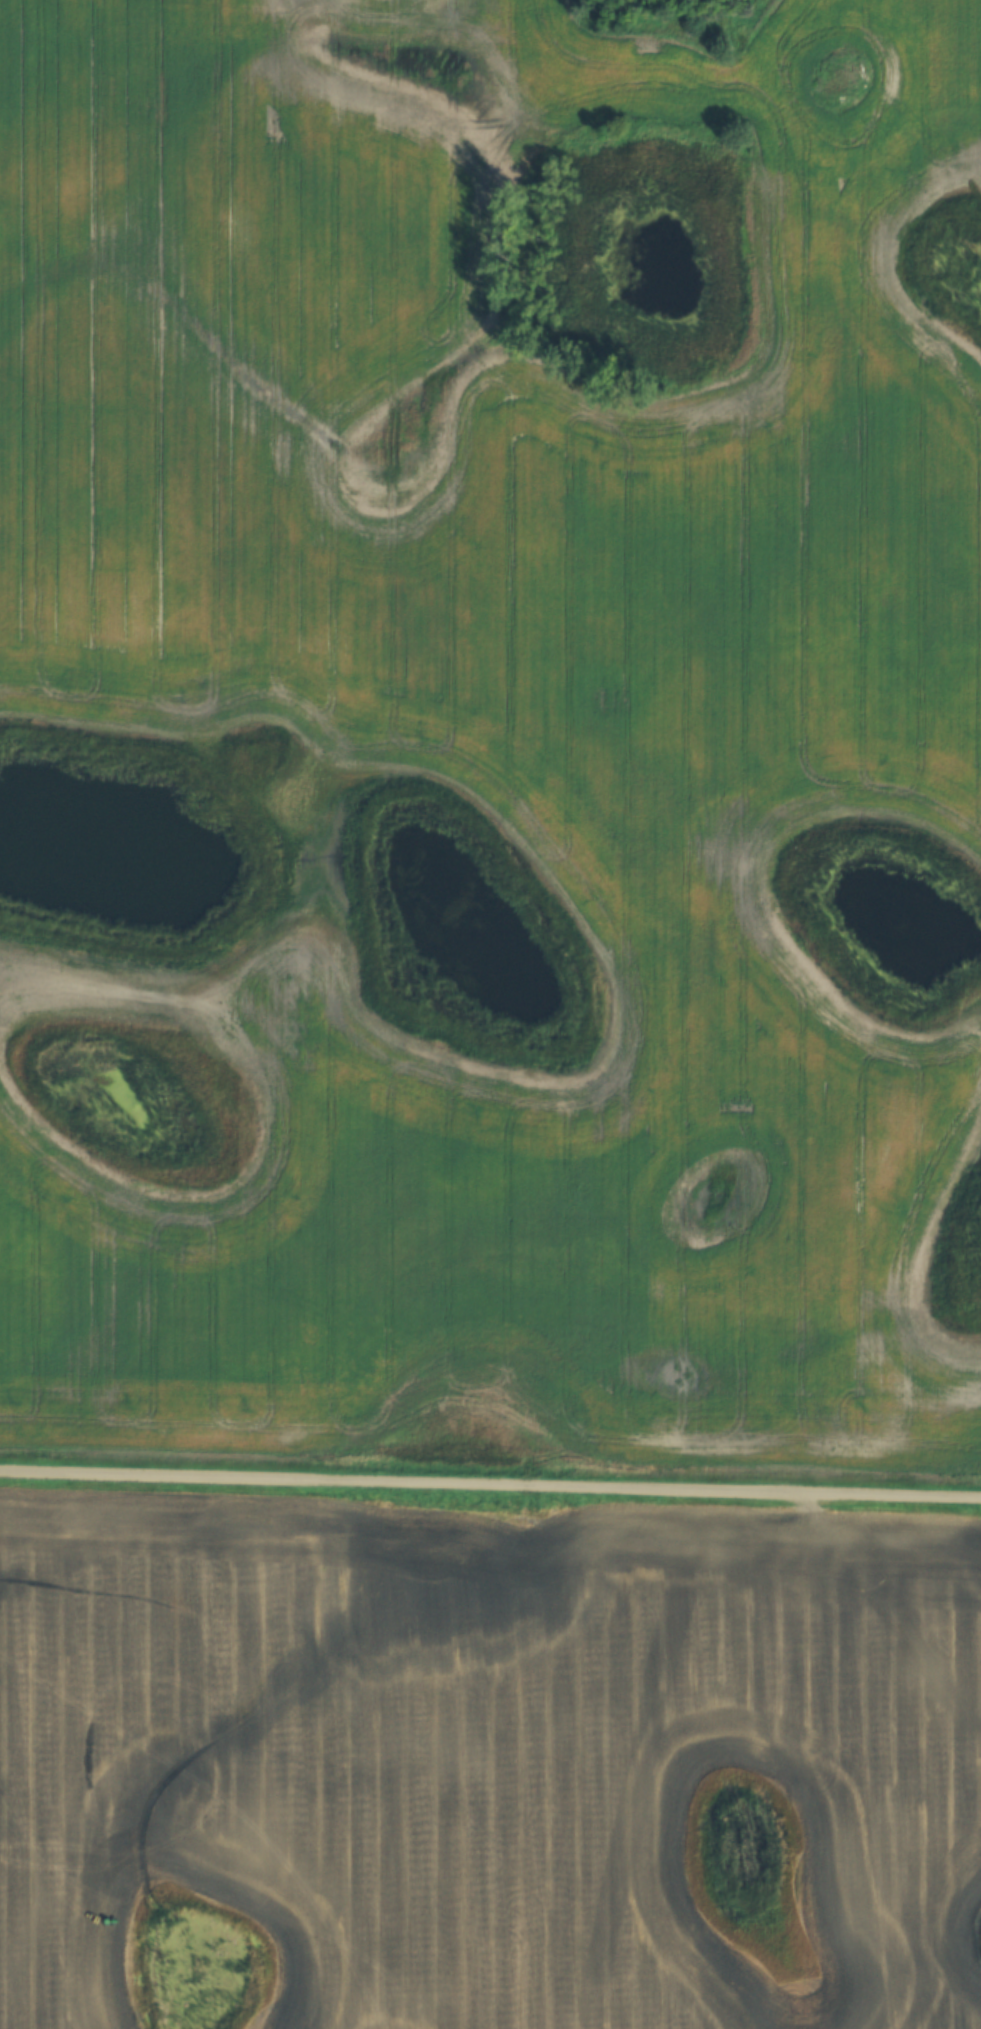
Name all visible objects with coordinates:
road: (406, 11)
road: (490, 1486)

